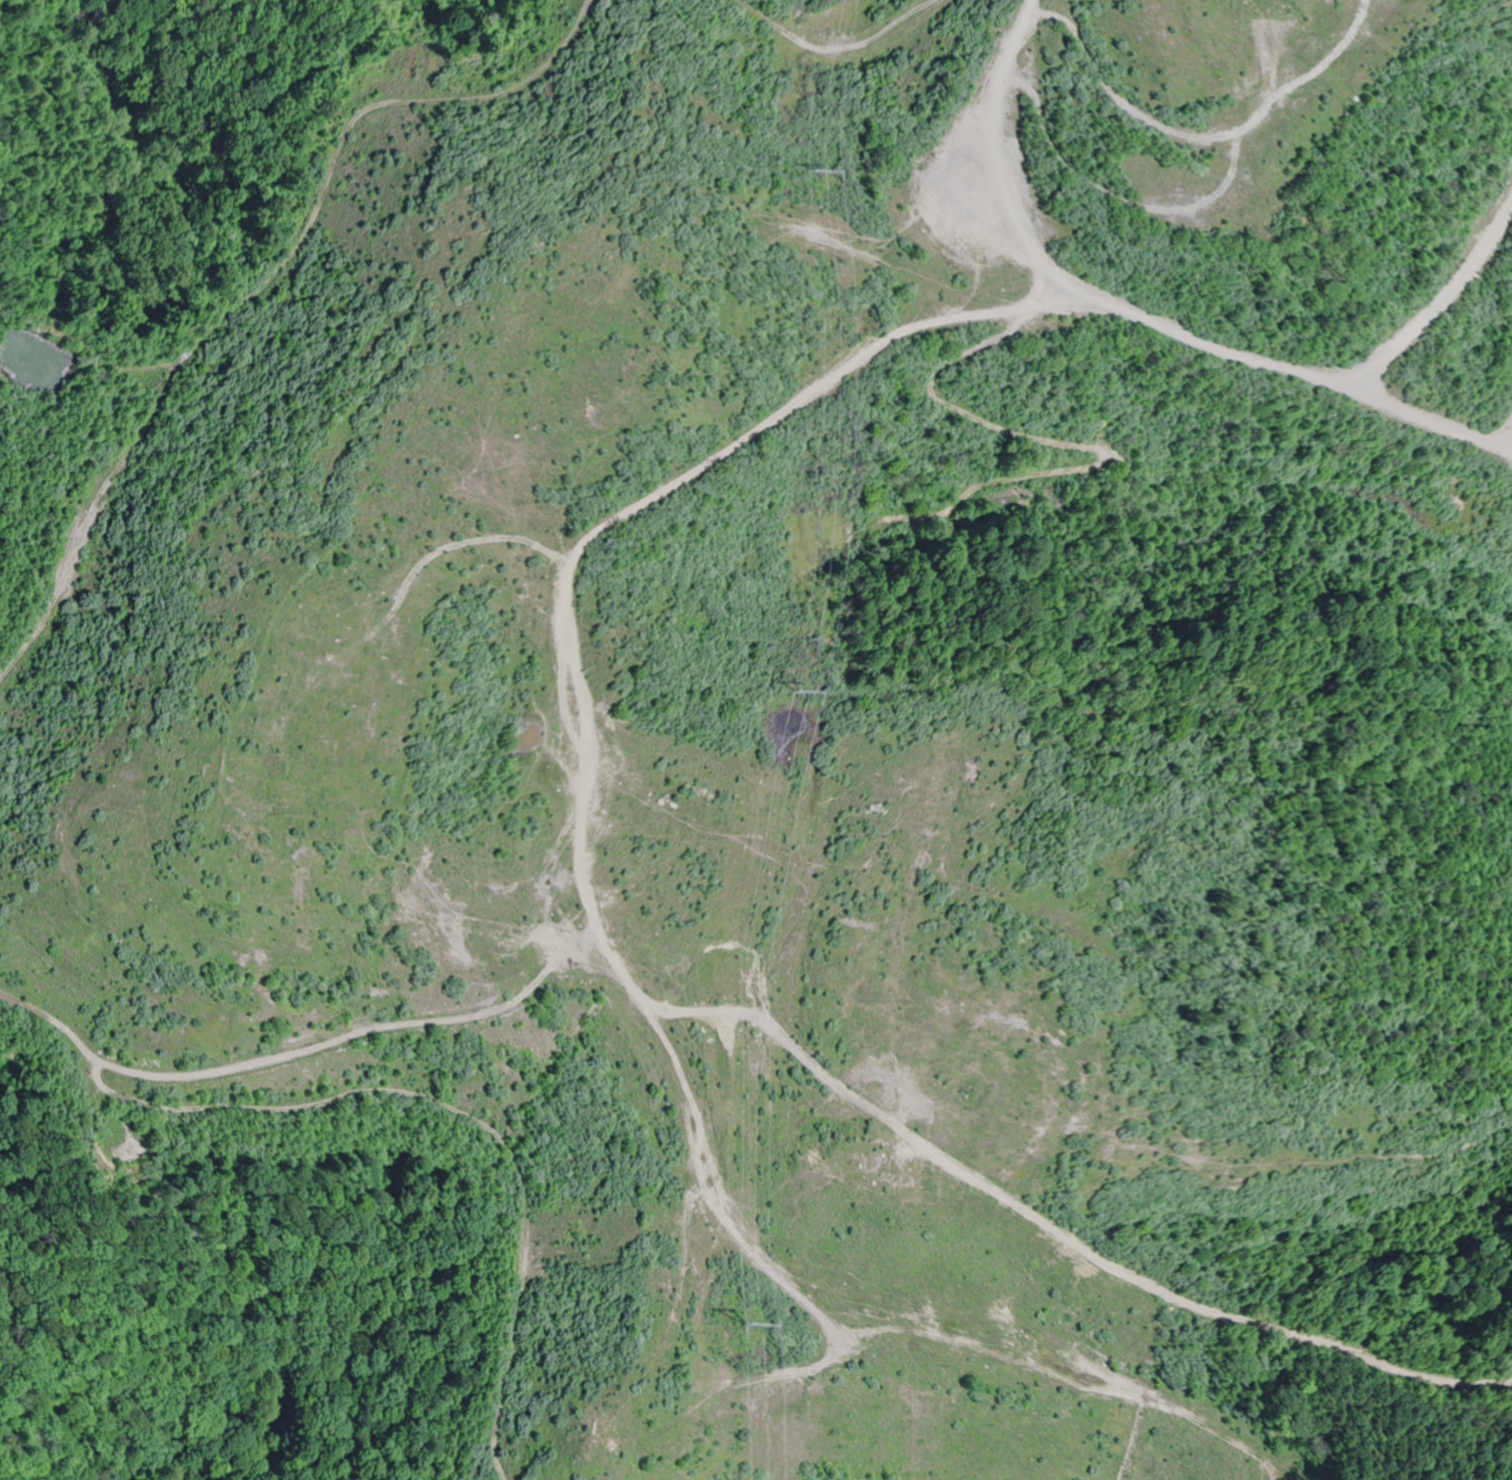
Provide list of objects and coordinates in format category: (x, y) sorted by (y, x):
power tower: (820, 173)
power tower: (786, 689)
power tower: (747, 1323)

